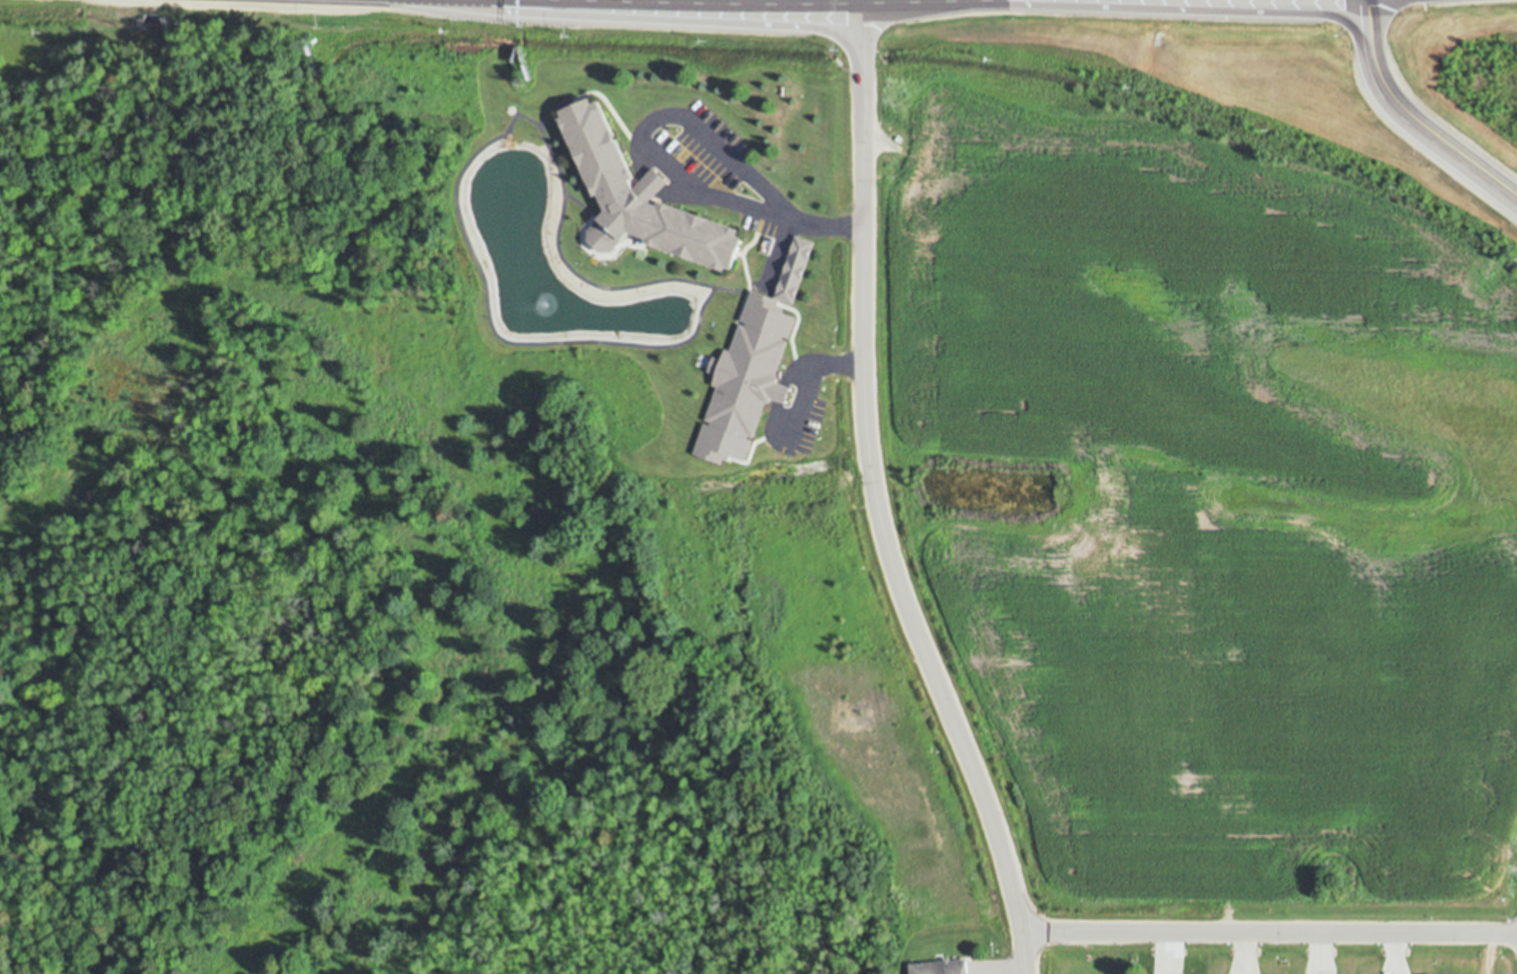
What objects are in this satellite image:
road: (1409, 119)
road: (658, 157)
building: (642, 197)
building: (793, 269)
road: (808, 381)
road: (871, 499)
road: (1267, 930)
building: (940, 966)

